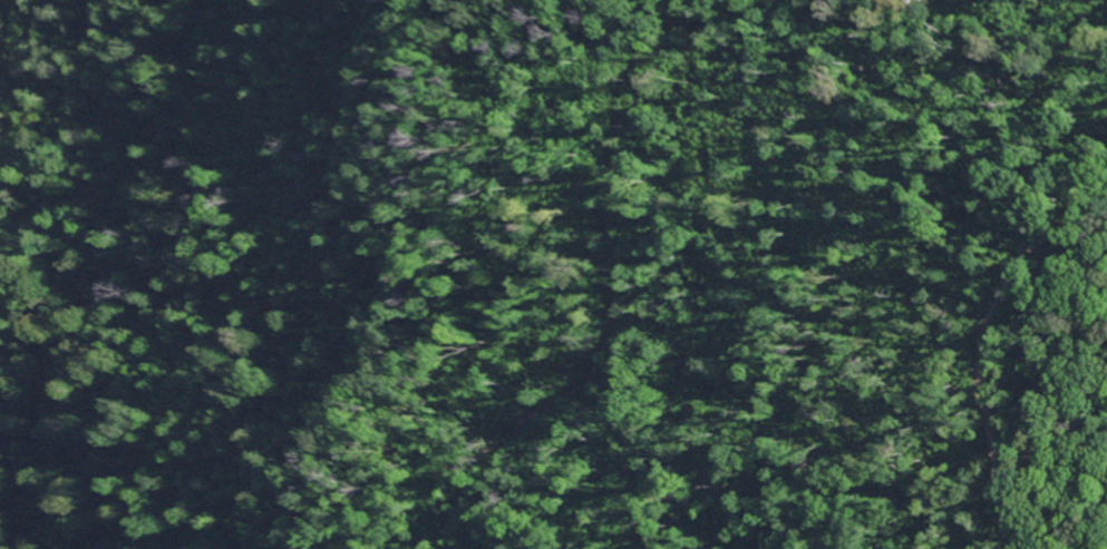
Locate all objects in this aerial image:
road: (599, 158)

